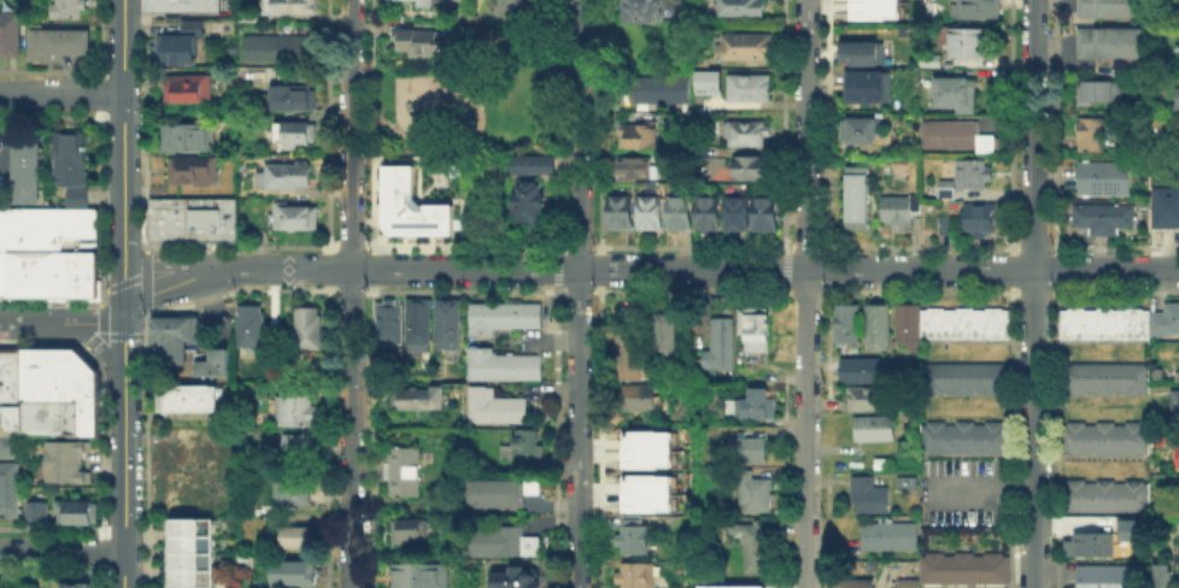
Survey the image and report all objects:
building: (422, 2)
building: (186, 5)
building: (291, 6)
building: (510, 6)
building: (738, 7)
building: (866, 7)
building: (1111, 7)
building: (70, 10)
building: (640, 10)
building: (980, 10)
building: (457, 29)
building: (194, 30)
building: (11, 36)
building: (415, 40)
building: (973, 43)
building: (1113, 45)
building: (61, 46)
building: (749, 47)
building: (184, 49)
building: (277, 51)
building: (866, 55)
building: (933, 60)
road: (477, 72)
building: (708, 81)
building: (872, 87)
building: (753, 89)
building: (190, 90)
building: (659, 90)
road: (61, 92)
park: (479, 92)
building: (1103, 93)
building: (960, 96)
building: (1175, 98)
building: (295, 100)
road: (123, 127)
building: (861, 133)
building: (297, 134)
road: (577, 134)
building: (750, 134)
road: (806, 134)
building: (640, 136)
building: (960, 136)
building: (1096, 137)
building: (187, 139)
building: (23, 141)
building: (24, 154)
building: (69, 158)
building: (530, 164)
building: (24, 169)
building: (752, 169)
building: (637, 170)
building: (194, 172)
building: (976, 177)
building: (286, 178)
building: (1107, 180)
building: (24, 182)
building: (950, 192)
building: (75, 195)
building: (857, 195)
building: (24, 196)
building: (527, 196)
building: (413, 206)
building: (1167, 208)
building: (899, 212)
building: (623, 213)
building: (651, 214)
building: (680, 214)
building: (766, 214)
building: (710, 216)
building: (738, 216)
building: (17, 217)
building: (157, 219)
building: (174, 219)
building: (192, 219)
building: (210, 219)
building: (227, 219)
building: (298, 219)
building: (1104, 219)
building: (980, 220)
building: (63, 225)
building: (946, 227)
building: (17, 239)
building: (2, 260)
road: (178, 264)
road: (407, 269)
road: (692, 269)
road: (992, 270)
building: (86, 271)
building: (14, 274)
building: (33, 274)
building: (57, 274)
road: (123, 280)
road: (177, 283)
building: (2, 284)
road: (350, 293)
road: (1034, 293)
building: (505, 318)
road: (95, 319)
building: (184, 319)
road: (33, 321)
building: (388, 322)
building: (962, 322)
building: (1167, 322)
building: (247, 324)
building: (849, 324)
building: (905, 324)
building: (420, 325)
building: (451, 325)
building: (1107, 325)
building: (878, 328)
building: (756, 331)
building: (306, 333)
road: (806, 335)
building: (668, 336)
building: (160, 337)
building: (182, 340)
road: (123, 342)
building: (721, 343)
road: (98, 346)
building: (217, 352)
building: (1177, 355)
building: (628, 357)
building: (505, 366)
building: (211, 367)
building: (86, 370)
building: (1, 372)
building: (11, 372)
building: (863, 372)
building: (25, 374)
building: (36, 374)
building: (53, 374)
building: (746, 375)
building: (1175, 375)
building: (962, 376)
building: (1105, 380)
building: (87, 394)
building: (188, 396)
building: (420, 398)
building: (638, 399)
building: (870, 400)
building: (53, 407)
building: (498, 408)
building: (1174, 408)
building: (756, 410)
building: (297, 411)
building: (8, 419)
building: (87, 423)
road: (577, 429)
building: (875, 430)
road: (806, 435)
building: (962, 436)
building: (1105, 439)
building: (10, 445)
building: (301, 446)
building: (524, 448)
building: (644, 448)
building: (65, 449)
building: (187, 449)
building: (750, 451)
building: (1175, 454)
road: (123, 465)
building: (65, 471)
building: (407, 472)
building: (215, 474)
building: (8, 475)
building: (652, 487)
parking lot: (961, 490)
building: (294, 492)
building: (178, 493)
building: (503, 493)
building: (869, 495)
building: (757, 496)
building: (1105, 498)
building: (7, 501)
building: (536, 502)
building: (34, 510)
building: (74, 510)
building: (1178, 511)
road: (806, 514)
building: (187, 525)
building: (1128, 528)
building: (412, 533)
building: (887, 534)
building: (634, 537)
building: (298, 540)
building: (500, 541)
building: (187, 543)
building: (1177, 545)
building: (1091, 547)
road: (61, 552)
building: (756, 552)
building: (187, 560)
building: (962, 566)
road: (123, 570)
road: (806, 574)
building: (1160, 574)
building: (297, 575)
building: (422, 575)
building: (638, 576)
building: (187, 577)
building: (1111, 577)
building: (520, 581)
building: (904, 582)
building: (77, 584)
building: (857, 584)

